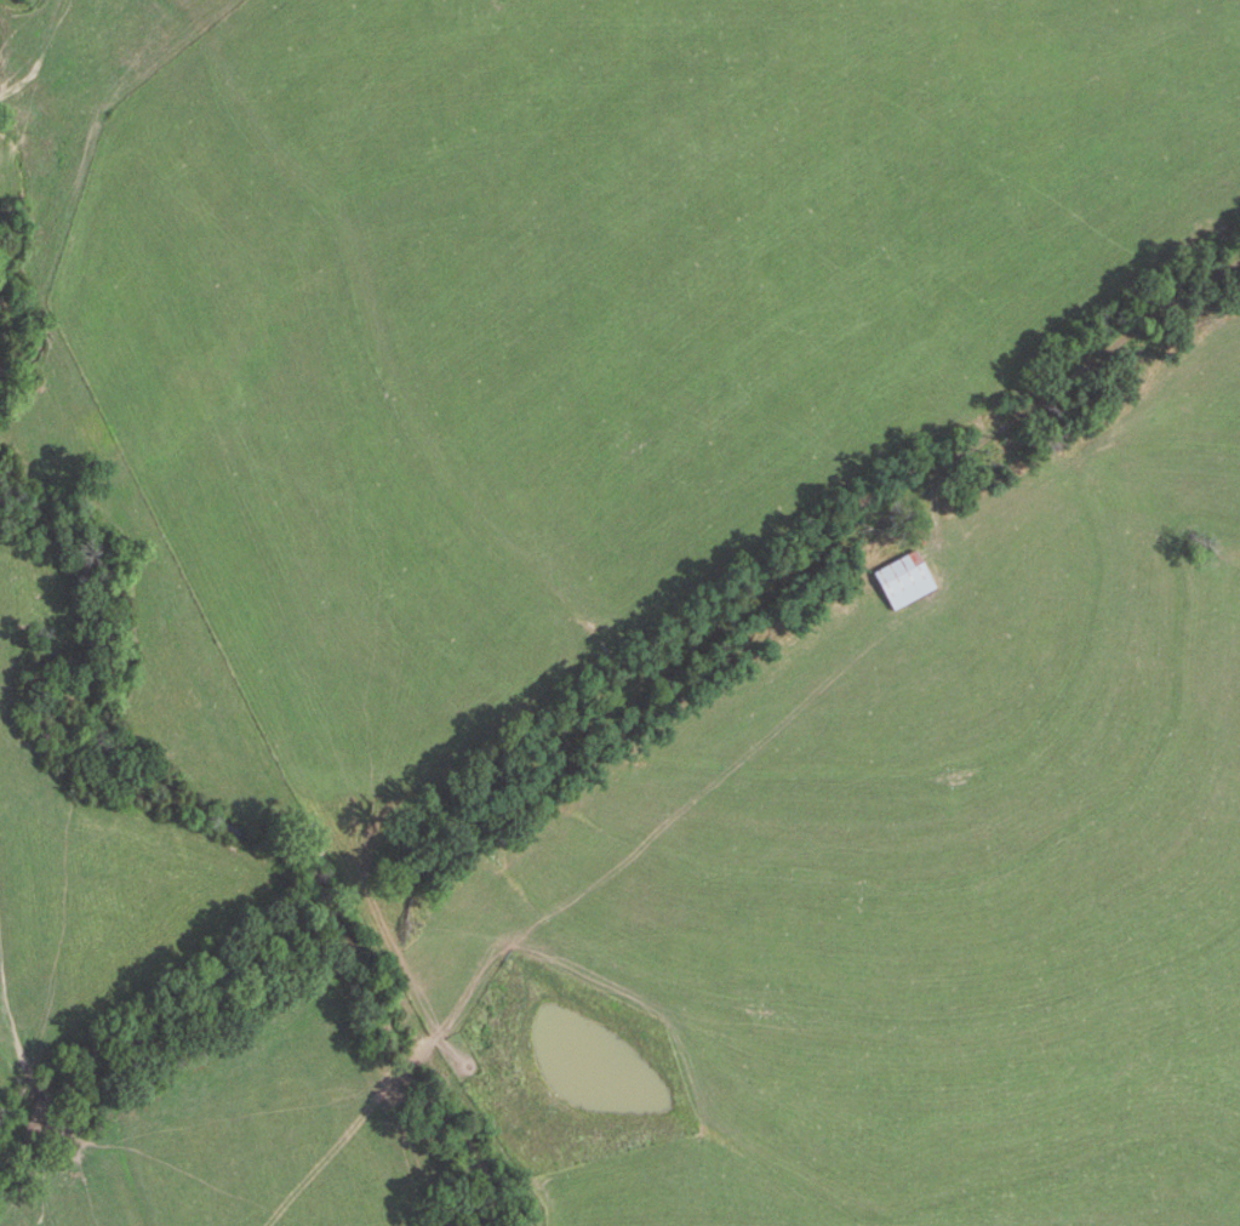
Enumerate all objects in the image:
building: (904, 581)

